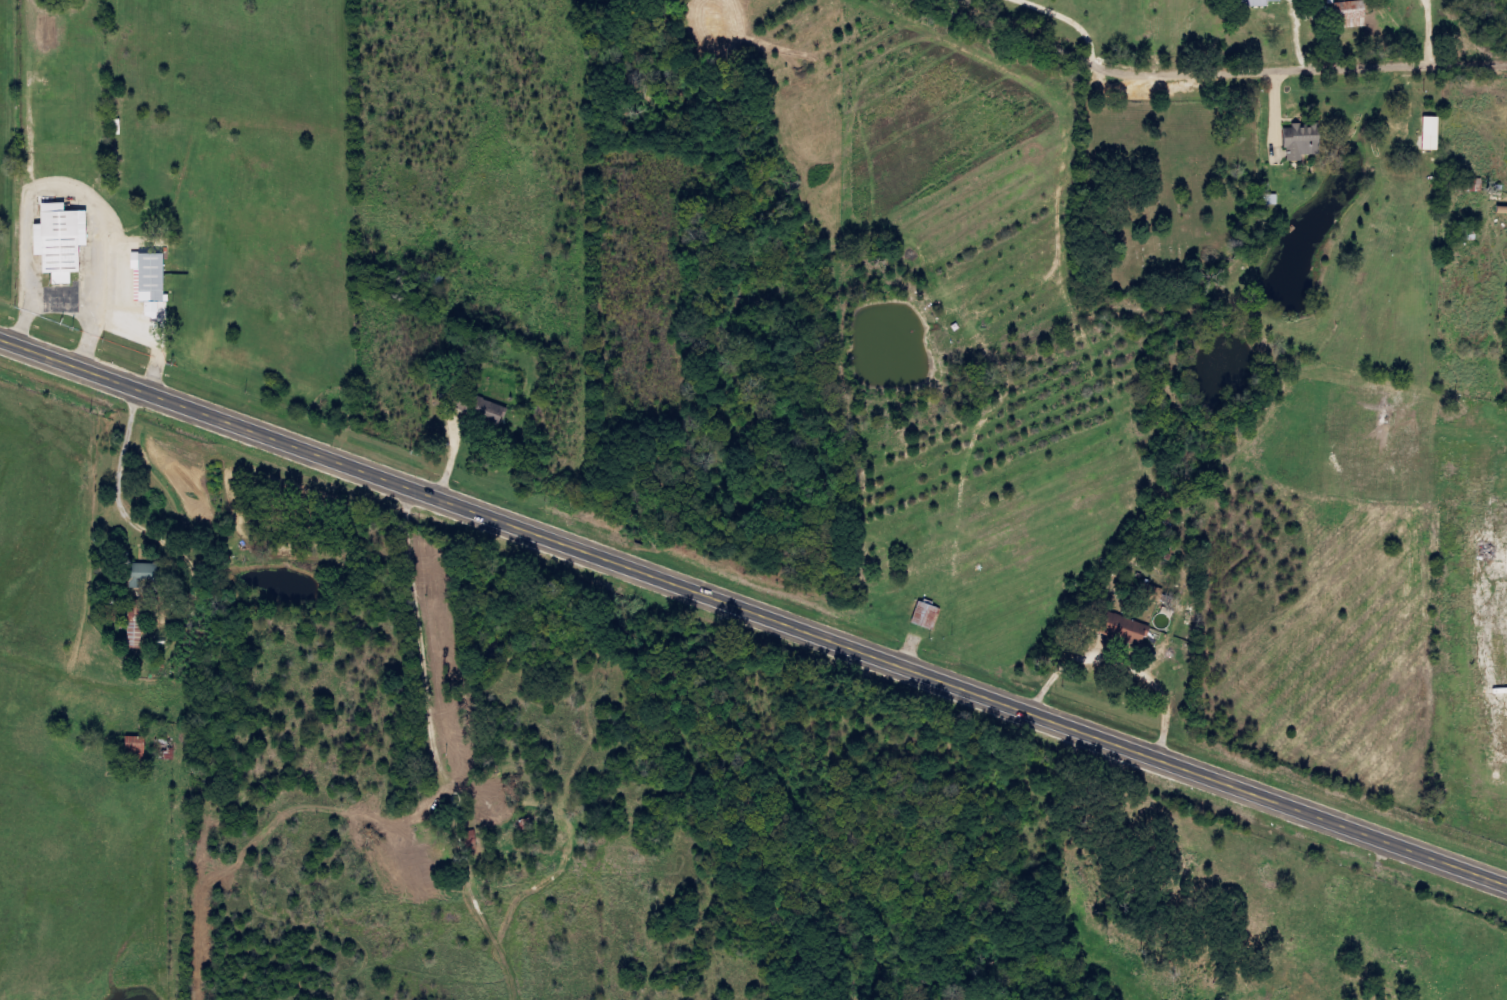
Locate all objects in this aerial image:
building: (1265, 3)
building: (1350, 15)
road: (1191, 81)
building: (121, 129)
building: (1432, 134)
building: (1471, 186)
building: (1269, 195)
park: (1157, 211)
building: (60, 241)
building: (479, 407)
building: (144, 574)
building: (1151, 592)
road: (753, 616)
building: (928, 616)
building: (1125, 629)
building: (136, 747)

